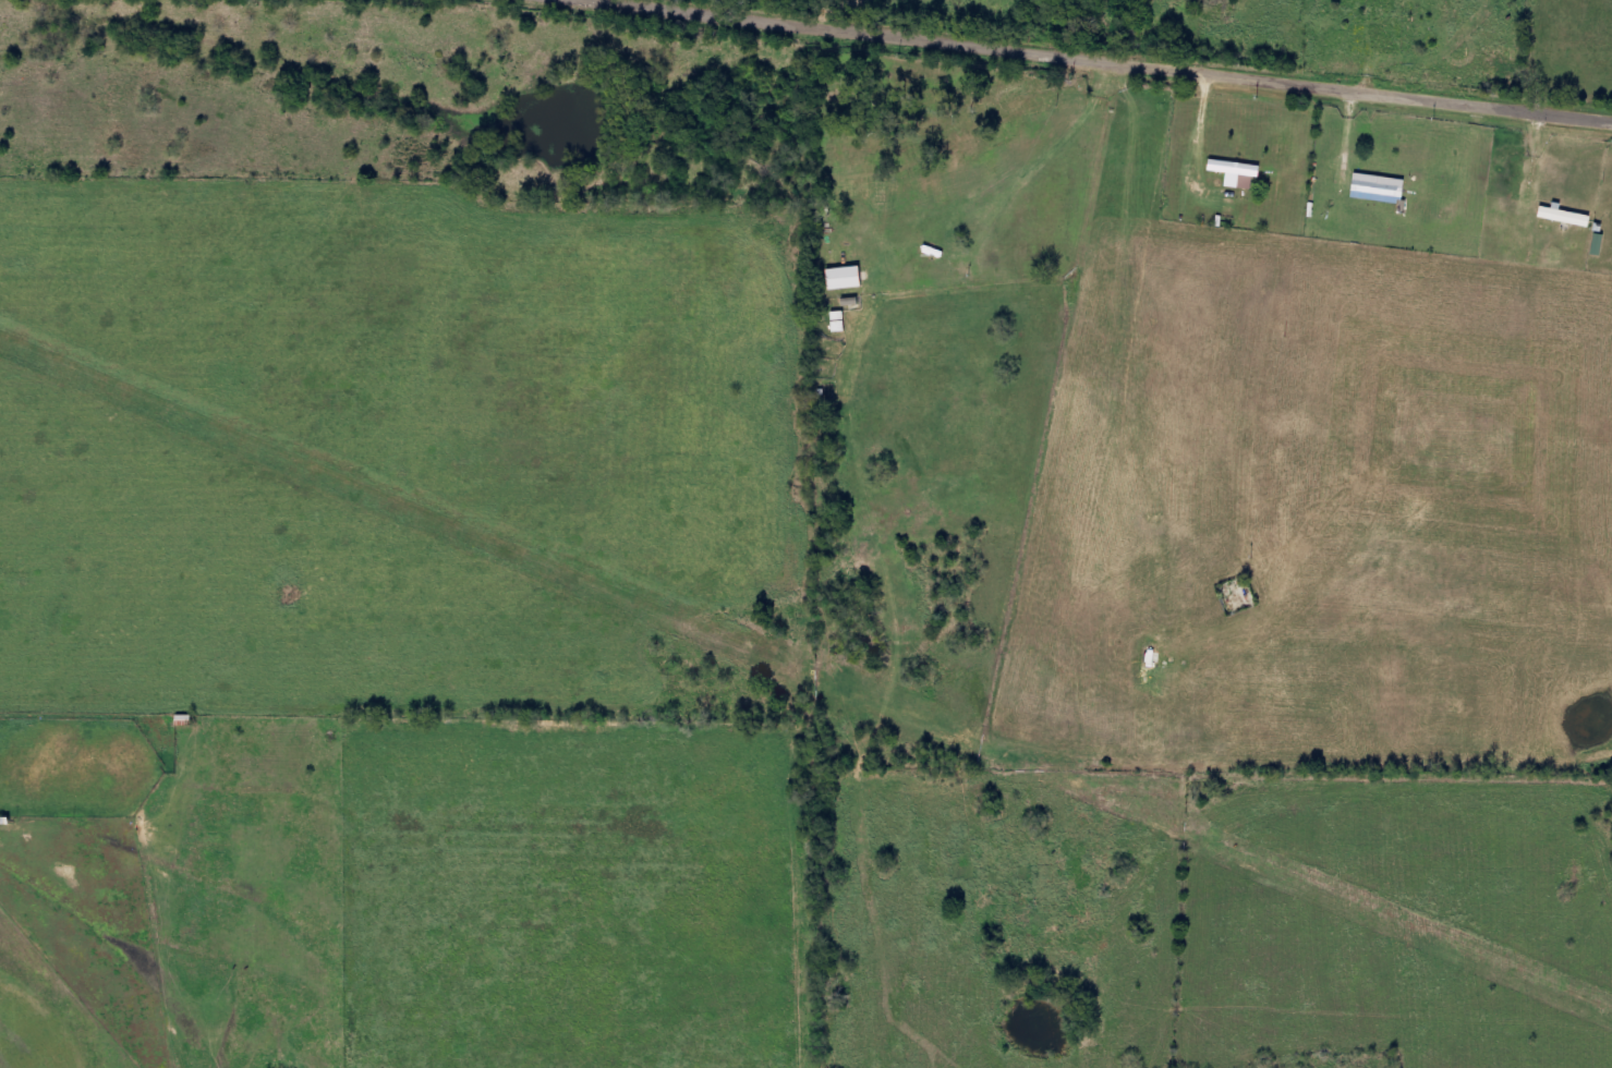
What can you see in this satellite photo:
road: (1064, 65)
building: (1239, 171)
building: (1382, 187)
building: (1569, 217)
building: (1602, 244)
building: (850, 279)

